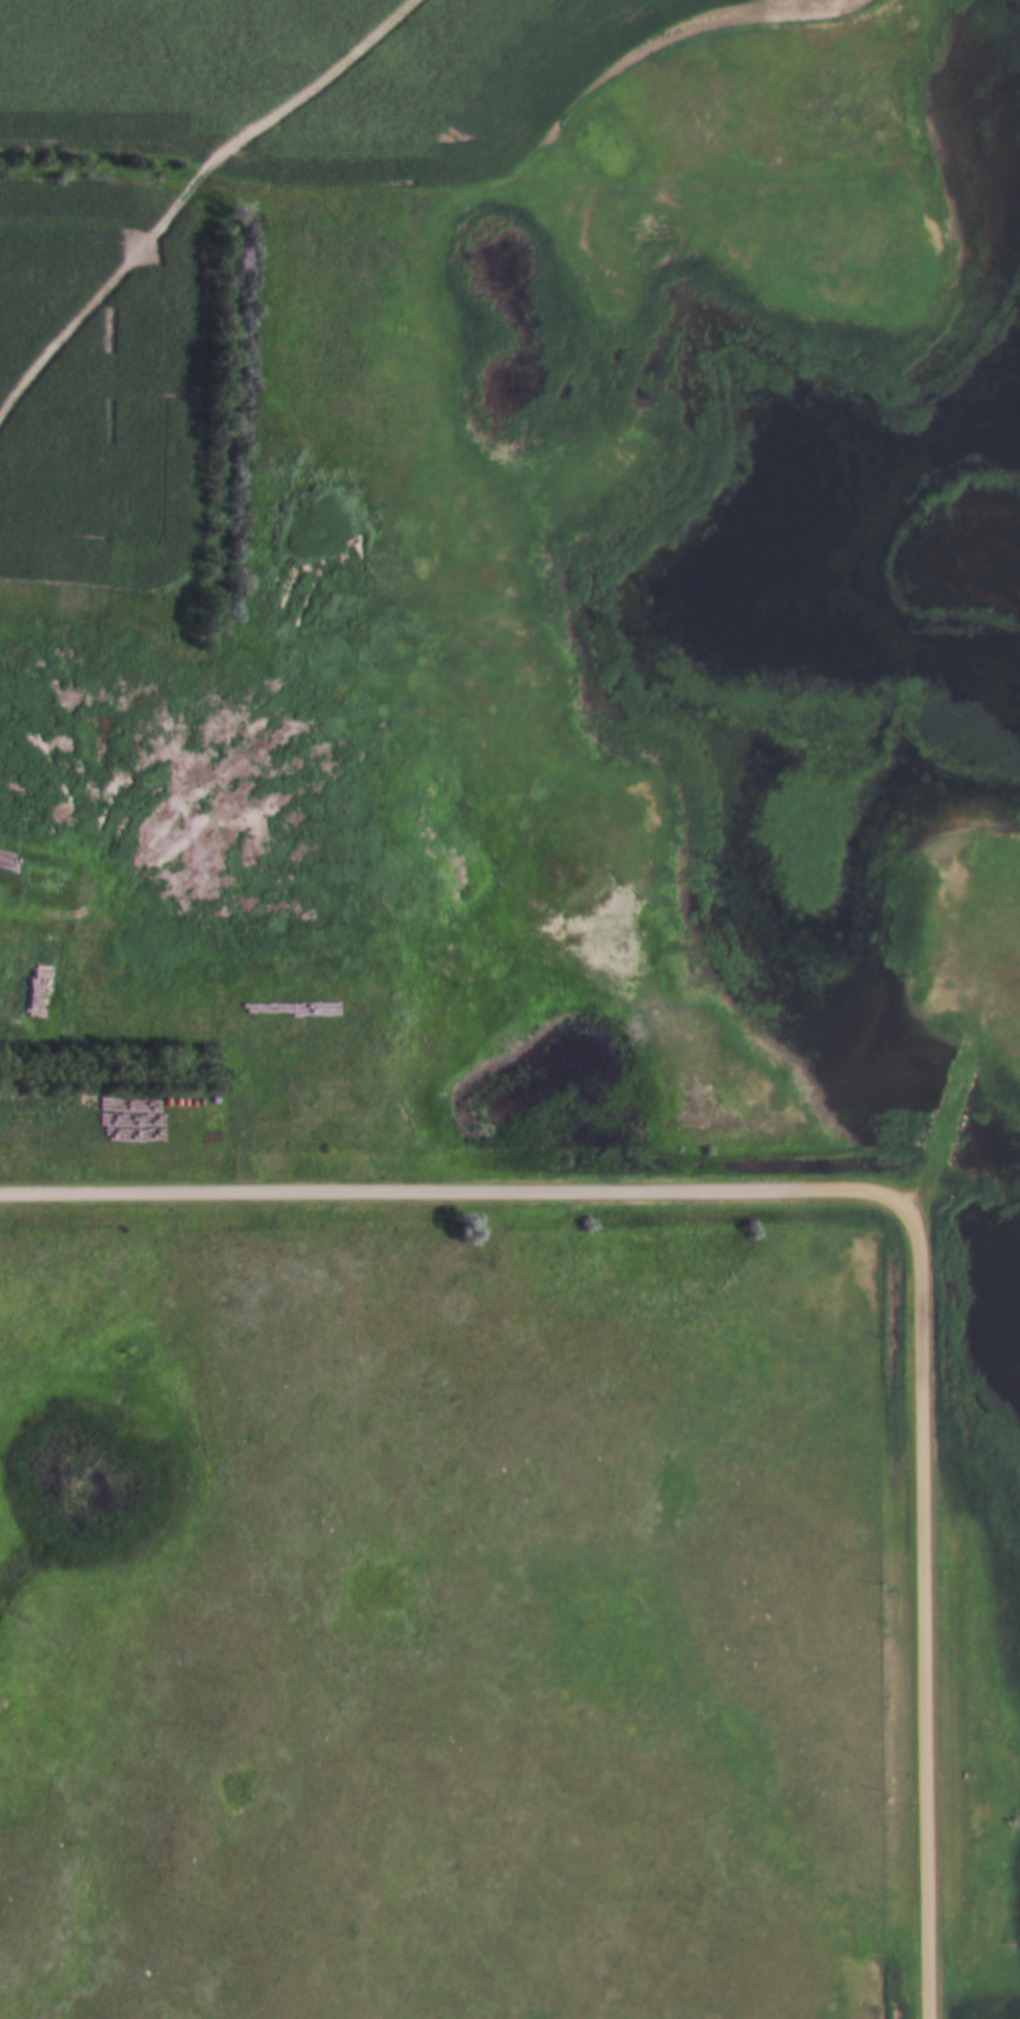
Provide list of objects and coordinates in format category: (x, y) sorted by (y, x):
road: (189, 193)
building: (143, 1117)
road: (452, 1189)
road: (922, 1608)

